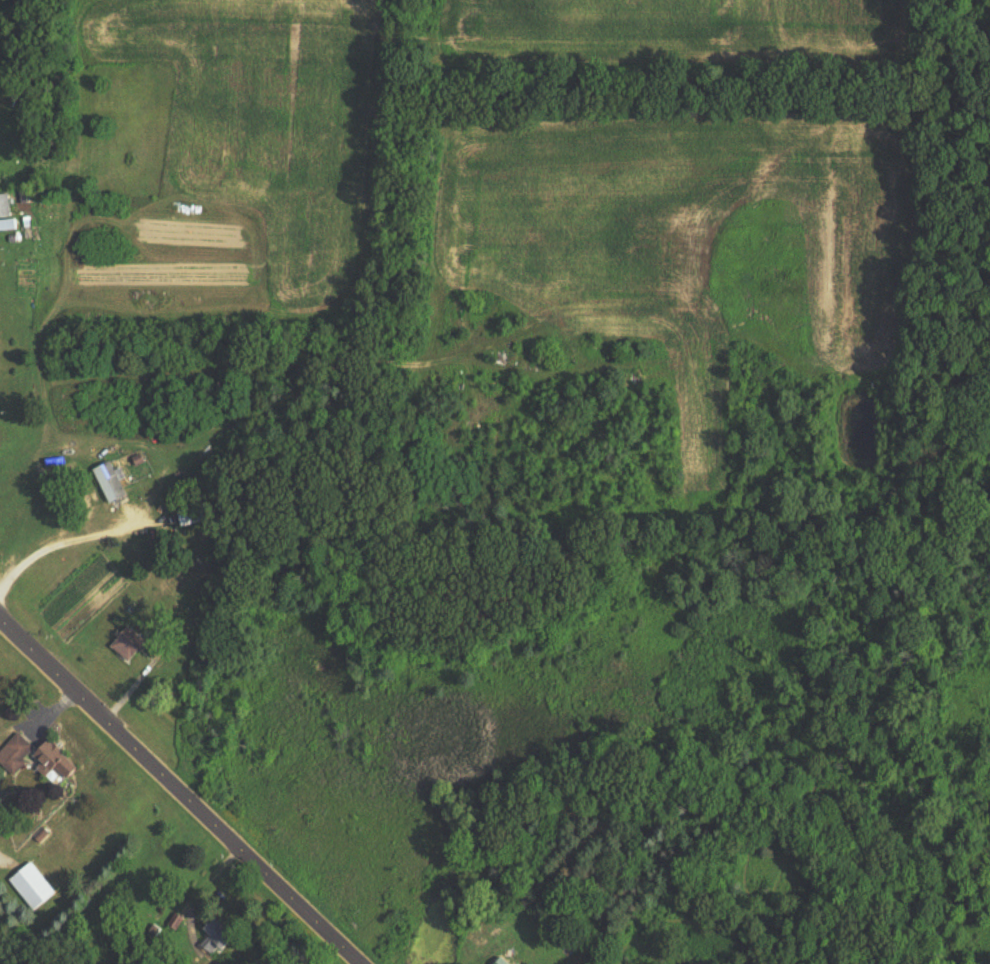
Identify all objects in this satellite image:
building: (5, 204)
building: (11, 224)
building: (110, 482)
building: (191, 514)
road: (60, 544)
building: (128, 645)
building: (15, 753)
building: (55, 762)
road: (180, 790)
building: (33, 886)
building: (220, 937)
building: (517, 962)

